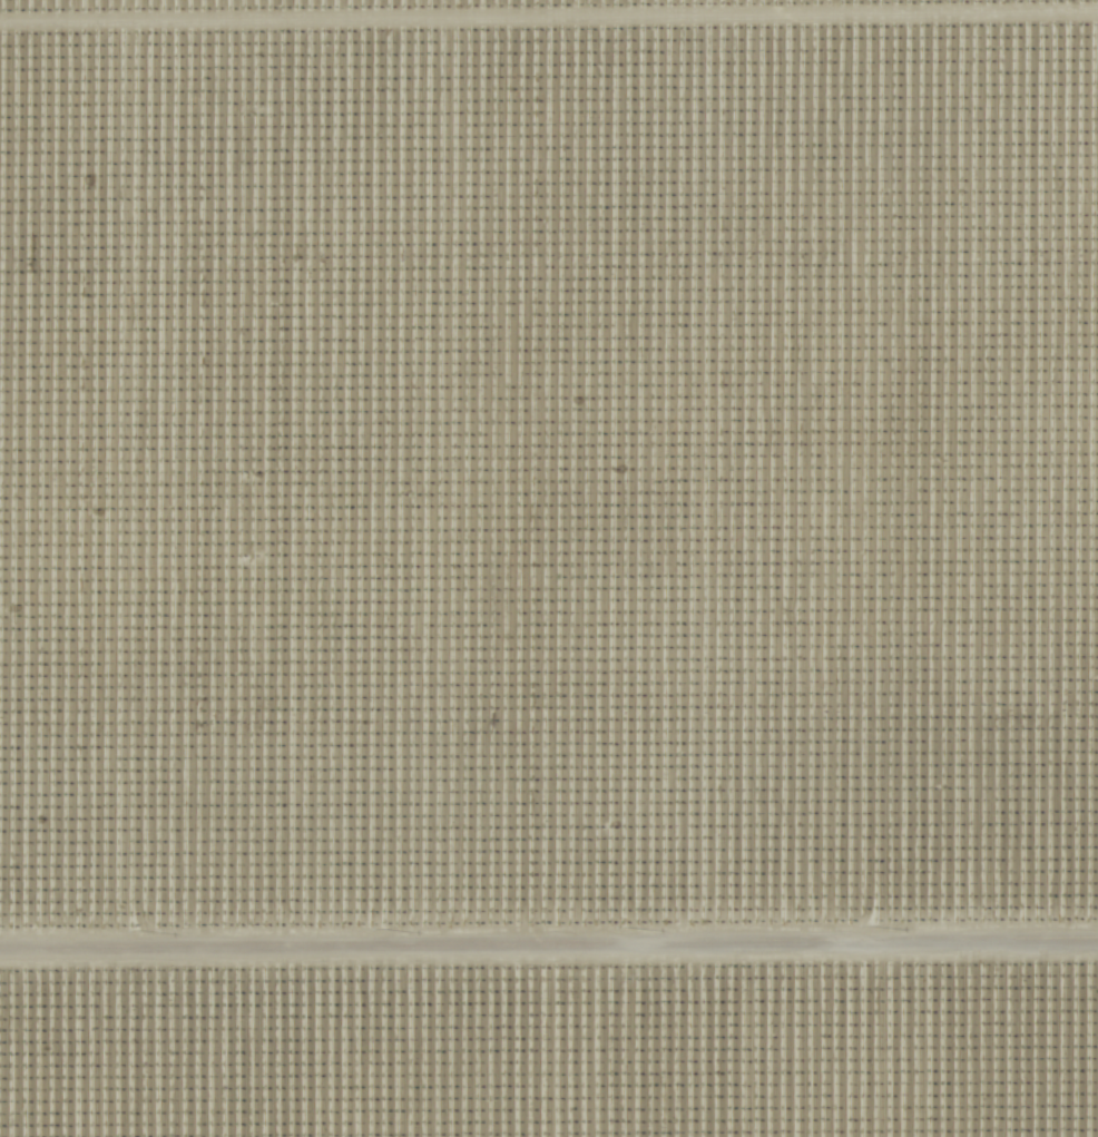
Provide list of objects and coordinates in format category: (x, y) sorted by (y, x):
road: (549, 951)

